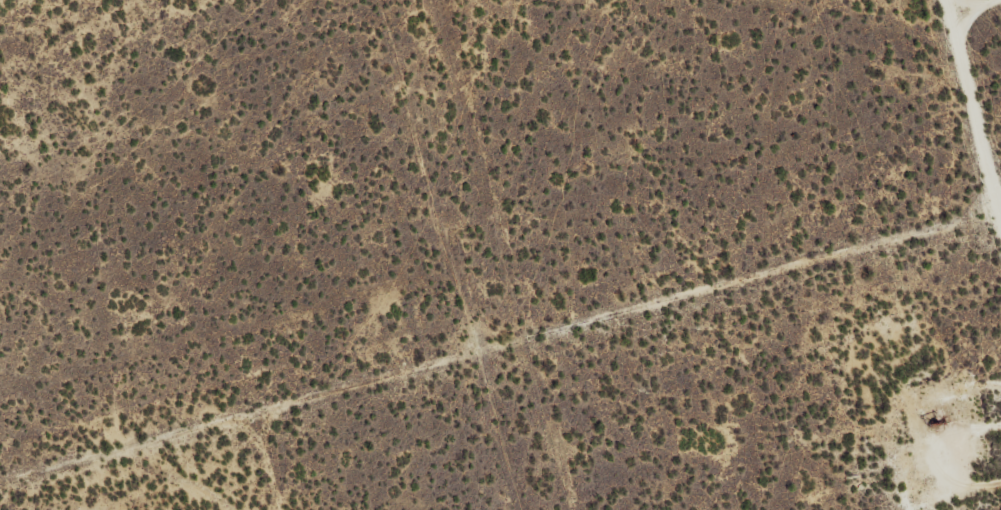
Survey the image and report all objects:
road: (981, 69)

